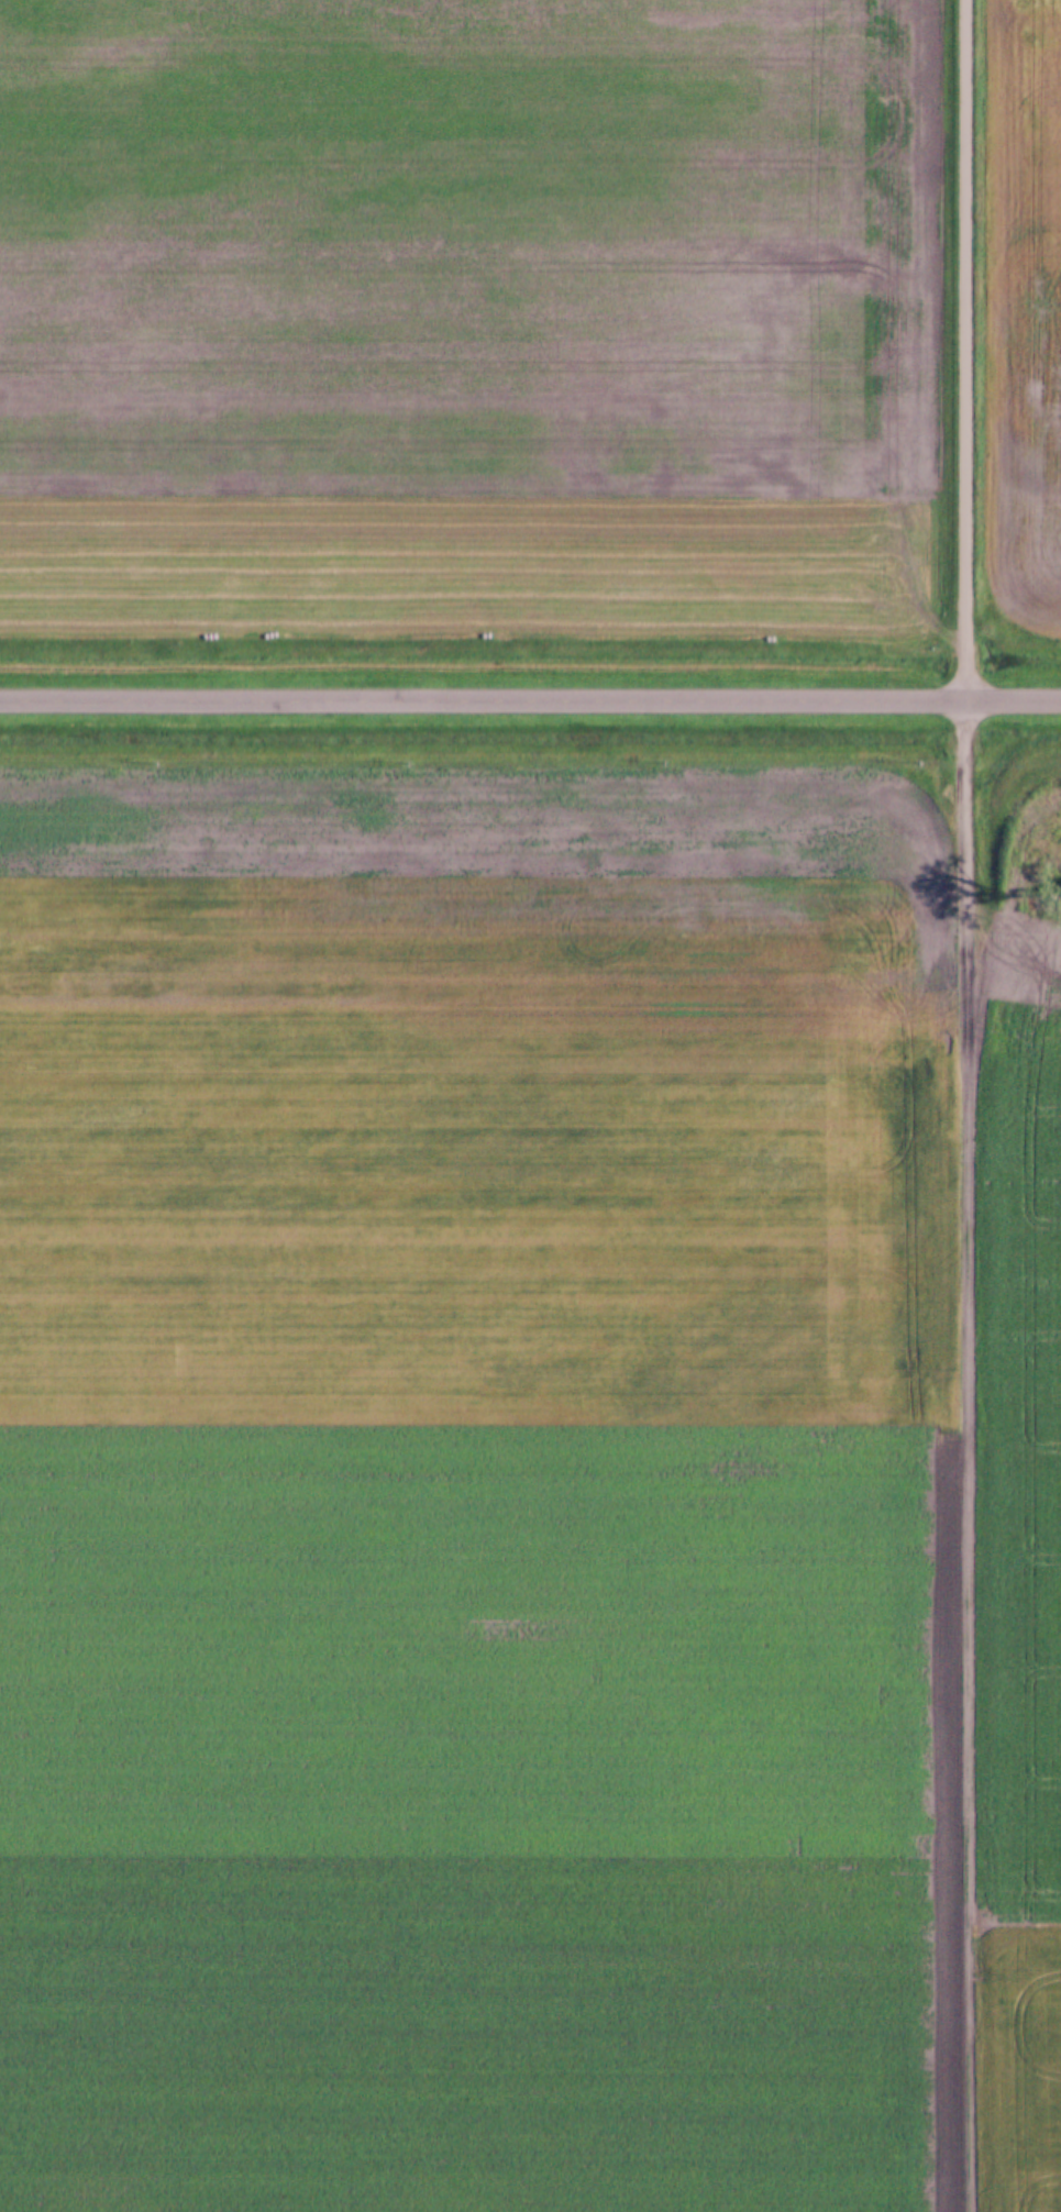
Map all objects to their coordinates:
road: (961, 351)
road: (530, 701)

